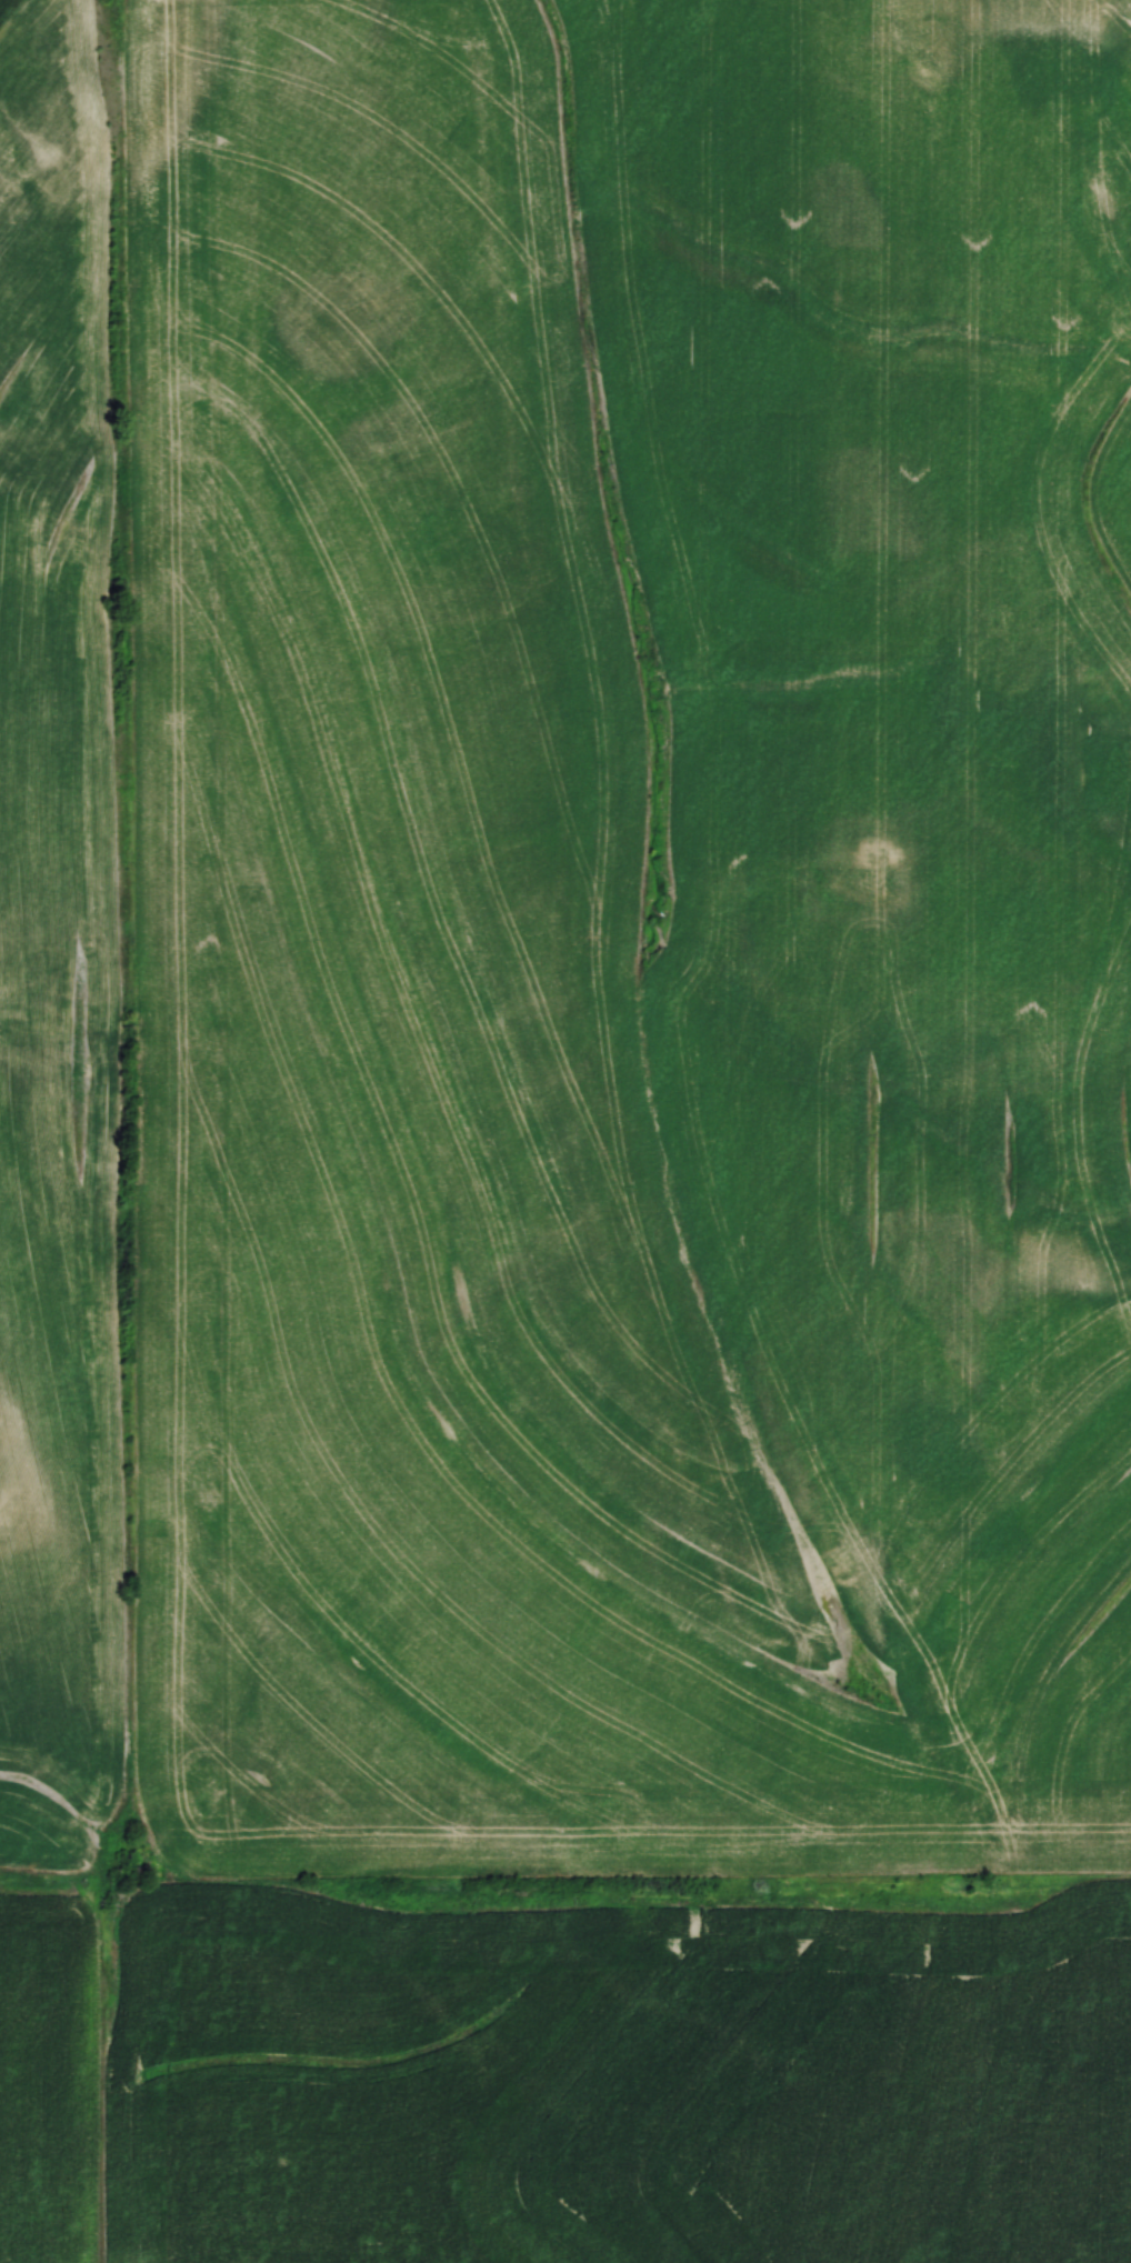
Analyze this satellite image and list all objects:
building: (929, 2067)

